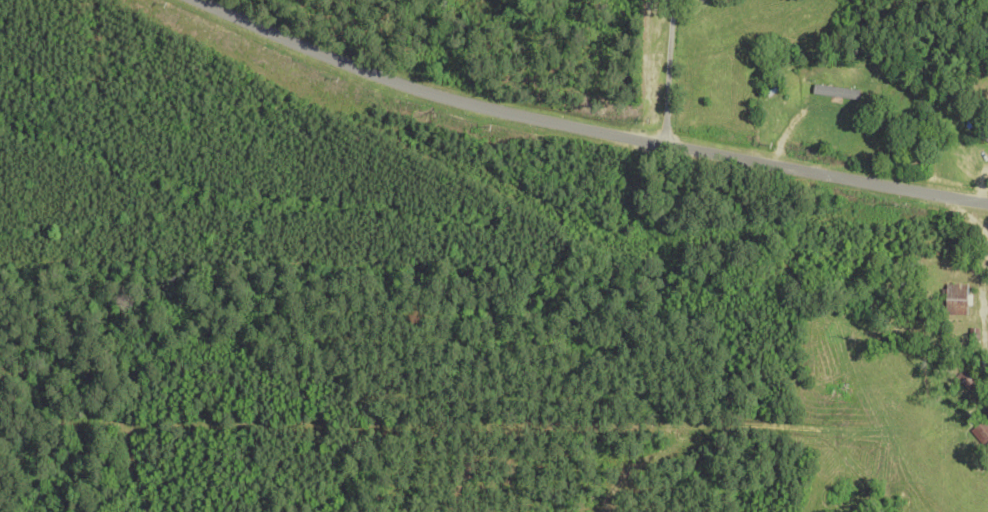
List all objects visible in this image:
building: (774, 91)
road: (747, 94)
road: (908, 118)
road: (579, 139)
building: (950, 300)

